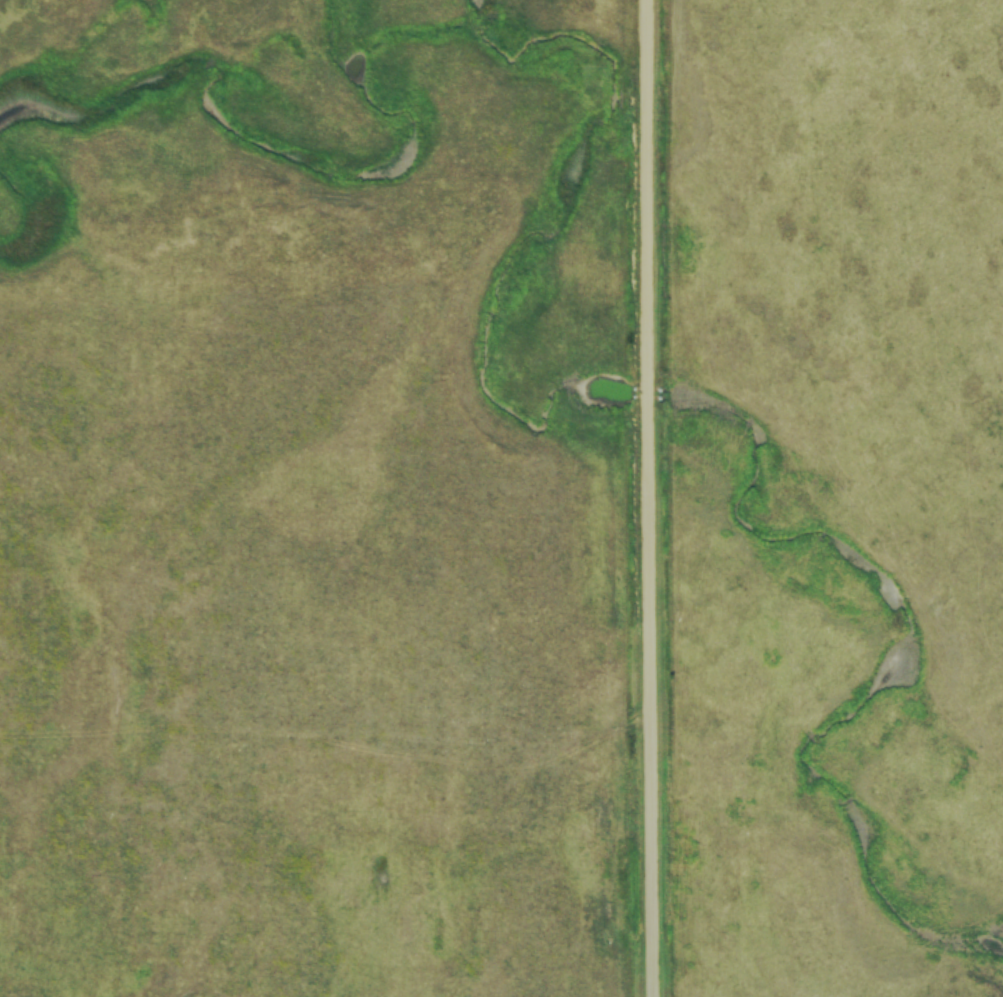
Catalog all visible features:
road: (653, 498)

